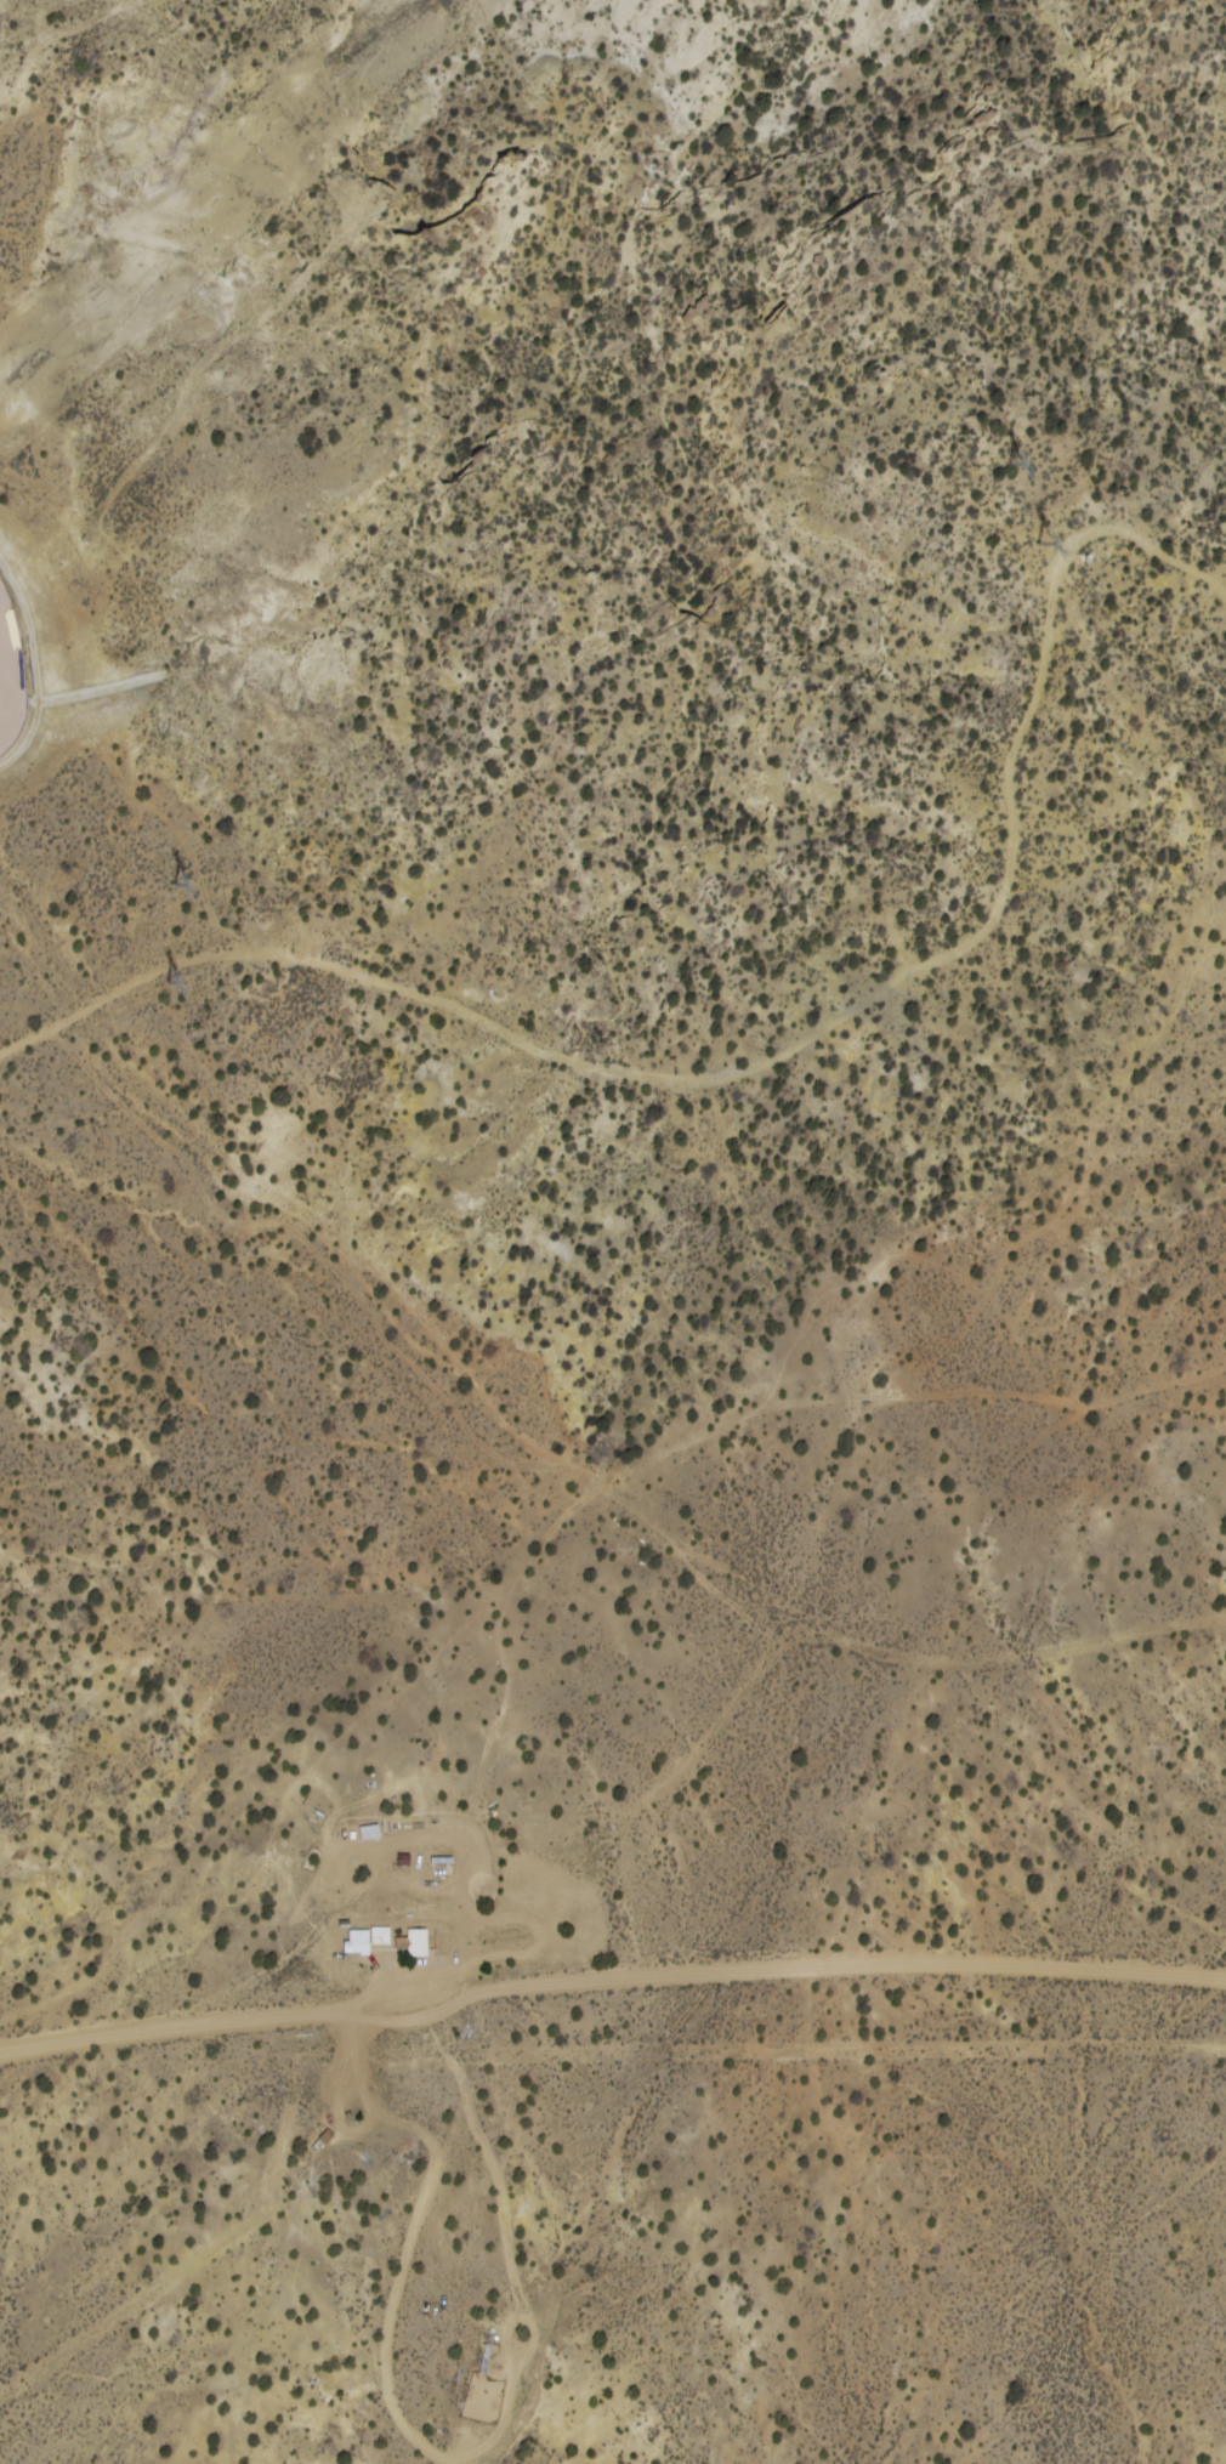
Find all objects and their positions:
power tower: (1021, 464)
power tower: (1060, 546)
power tower: (202, 879)
power tower: (188, 977)
road: (747, 1044)
road: (631, 1832)
building: (358, 1940)
building: (418, 1942)
road: (791, 1974)

